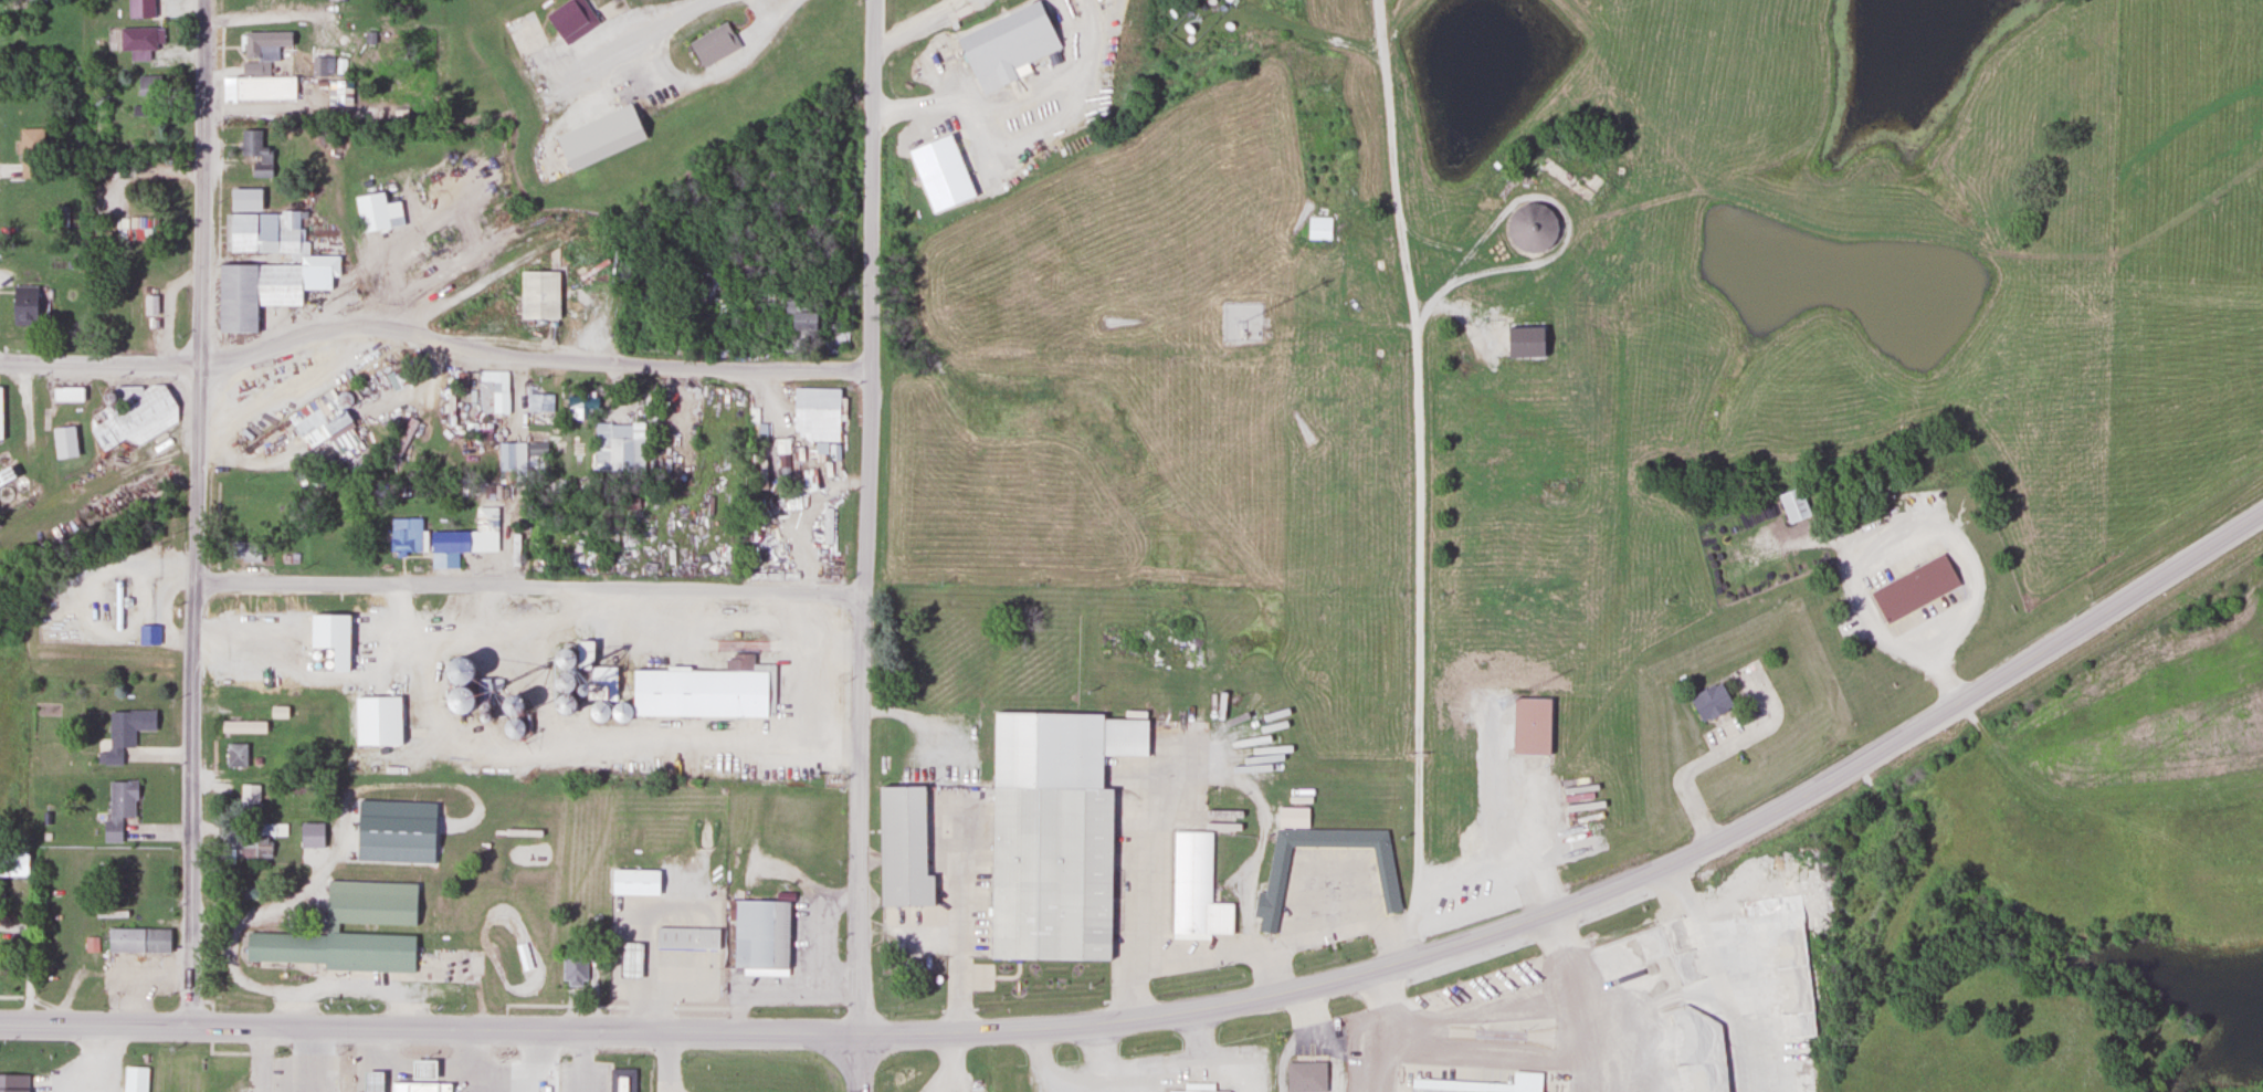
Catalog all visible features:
building: (35, 2)
building: (138, 9)
building: (565, 18)
road: (915, 22)
building: (711, 38)
building: (139, 41)
building: (1006, 45)
building: (320, 66)
building: (262, 67)
building: (148, 94)
road: (1011, 98)
building: (599, 137)
building: (30, 151)
building: (255, 153)
road: (517, 156)
road: (201, 182)
road: (613, 189)
building: (377, 211)
building: (129, 228)
building: (1529, 228)
building: (1317, 234)
building: (538, 294)
building: (22, 305)
building: (802, 315)
road: (529, 357)
road: (99, 367)
road: (200, 385)
building: (493, 391)
building: (66, 393)
building: (539, 402)
building: (580, 406)
building: (0, 413)
building: (817, 413)
building: (130, 416)
building: (317, 433)
building: (536, 448)
building: (617, 450)
building: (512, 455)
road: (112, 474)
building: (6, 475)
road: (1417, 477)
building: (1792, 505)
road: (865, 517)
building: (827, 525)
building: (406, 535)
building: (467, 536)
building: (244, 550)
building: (304, 550)
road: (530, 587)
building: (1913, 588)
building: (147, 634)
building: (593, 674)
building: (702, 691)
building: (1709, 702)
road: (196, 714)
building: (376, 721)
building: (1529, 726)
building: (242, 727)
building: (124, 732)
building: (235, 755)
road: (1813, 790)
building: (249, 797)
building: (118, 809)
building: (1049, 839)
building: (254, 847)
building: (902, 848)
building: (12, 864)
building: (1383, 870)
building: (633, 882)
building: (1194, 889)
building: (376, 897)
building: (686, 938)
building: (771, 938)
building: (137, 941)
building: (629, 960)
building: (573, 967)
road: (664, 1033)
road: (269, 1060)
road: (857, 1063)
building: (422, 1070)
building: (1305, 1077)
building: (134, 1079)
building: (371, 1081)
building: (631, 1081)
building: (12, 1083)
building: (1483, 1084)
building: (419, 1086)
building: (1170, 1091)
building: (1206, 1091)

